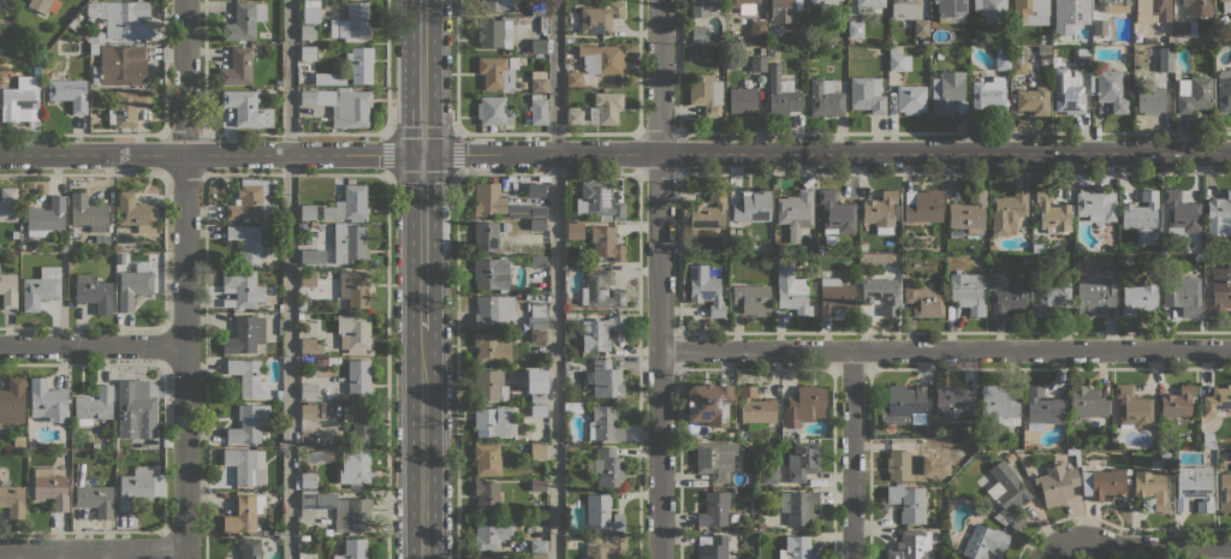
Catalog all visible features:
building: (822, 2)
building: (869, 2)
building: (310, 4)
building: (43, 5)
building: (494, 5)
building: (743, 5)
building: (700, 6)
building: (1066, 6)
building: (1226, 6)
building: (537, 7)
building: (1102, 7)
building: (1196, 7)
building: (903, 8)
building: (783, 10)
building: (991, 10)
building: (950, 11)
building: (1029, 11)
building: (1152, 11)
building: (310, 14)
building: (599, 17)
building: (120, 18)
building: (244, 20)
building: (351, 22)
building: (1083, 26)
building: (1099, 26)
building: (757, 28)
building: (920, 28)
building: (1184, 28)
building: (856, 30)
building: (307, 31)
building: (489, 32)
building: (977, 32)
building: (697, 34)
building: (93, 36)
building: (801, 41)
building: (537, 46)
building: (93, 48)
building: (891, 49)
building: (307, 53)
building: (1001, 58)
building: (602, 59)
building: (1018, 59)
building: (1165, 59)
building: (512, 61)
building: (757, 63)
building: (898, 63)
building: (120, 65)
building: (361, 65)
building: (1084, 65)
building: (36, 66)
road: (386, 66)
road: (456, 66)
building: (237, 67)
building: (495, 72)
road: (422, 76)
building: (328, 78)
building: (573, 78)
building: (537, 81)
building: (522, 84)
building: (1108, 87)
building: (1066, 90)
building: (1224, 90)
building: (947, 91)
building: (69, 93)
building: (704, 93)
building: (781, 93)
building: (986, 93)
building: (866, 94)
building: (1193, 94)
building: (825, 97)
building: (910, 99)
building: (20, 100)
building: (742, 100)
building: (1033, 100)
building: (1149, 100)
building: (341, 105)
building: (126, 107)
building: (246, 108)
building: (537, 108)
building: (597, 109)
building: (493, 111)
building: (321, 112)
building: (310, 123)
road: (614, 151)
traffic signals: (423, 153)
road: (388, 172)
building: (1230, 189)
building: (535, 190)
building: (487, 198)
building: (252, 200)
building: (597, 201)
building: (8, 204)
building: (347, 204)
building: (1096, 204)
building: (751, 206)
building: (922, 206)
building: (795, 209)
building: (879, 209)
building: (537, 210)
building: (1007, 210)
building: (307, 212)
building: (707, 212)
building: (968, 212)
building: (1140, 212)
building: (1181, 212)
building: (88, 213)
building: (135, 213)
building: (835, 213)
building: (1052, 213)
building: (1219, 215)
building: (46, 216)
building: (536, 224)
building: (505, 226)
building: (575, 230)
building: (72, 231)
building: (486, 234)
building: (528, 238)
road: (422, 240)
building: (246, 242)
building: (606, 243)
building: (349, 244)
building: (1036, 246)
building: (1199, 249)
building: (311, 256)
building: (1197, 256)
building: (1039, 258)
building: (1023, 260)
building: (537, 261)
building: (490, 273)
building: (307, 276)
road: (184, 279)
road: (289, 279)
road: (555, 279)
road: (658, 279)
building: (999, 279)
building: (133, 285)
building: (243, 286)
building: (41, 287)
building: (8, 290)
building: (600, 290)
building: (704, 290)
building: (355, 291)
building: (791, 291)
building: (1220, 291)
building: (967, 292)
building: (94, 293)
building: (881, 293)
building: (1182, 293)
building: (834, 296)
building: (1095, 296)
building: (1051, 297)
building: (751, 298)
building: (1009, 298)
building: (1137, 298)
building: (923, 299)
building: (494, 310)
building: (302, 315)
building: (536, 315)
building: (279, 326)
building: (353, 332)
building: (599, 332)
building: (245, 334)
building: (537, 335)
road: (91, 344)
building: (311, 345)
building: (490, 347)
road: (944, 350)
building: (320, 362)
road: (387, 365)
road: (456, 365)
building: (540, 370)
building: (246, 376)
building: (358, 376)
building: (605, 379)
building: (489, 386)
building: (537, 388)
building: (308, 389)
building: (48, 400)
building: (1217, 400)
building: (12, 402)
building: (1087, 402)
building: (1177, 402)
building: (708, 403)
building: (953, 403)
building: (904, 404)
building: (998, 404)
building: (94, 405)
building: (803, 405)
building: (572, 406)
building: (755, 406)
building: (1041, 408)
building: (1132, 408)
building: (135, 409)
building: (539, 410)
building: (308, 411)
building: (358, 421)
building: (494, 421)
building: (249, 423)
building: (605, 423)
building: (927, 430)
building: (792, 433)
building: (968, 439)
building: (1207, 439)
building: (19, 440)
road: (422, 444)
building: (537, 451)
road: (852, 454)
building: (1165, 454)
building: (1009, 456)
building: (487, 458)
building: (715, 458)
building: (802, 460)
building: (900, 460)
building: (244, 465)
building: (355, 465)
building: (608, 466)
building: (768, 474)
building: (308, 480)
building: (1054, 481)
building: (1102, 482)
building: (537, 484)
building: (137, 486)
building: (1194, 487)
building: (50, 488)
building: (1150, 490)
building: (1225, 492)
building: (1007, 494)
building: (487, 496)
building: (95, 499)
building: (12, 500)
building: (908, 501)
building: (797, 505)
building: (714, 509)
building: (341, 510)
building: (244, 512)
building: (601, 512)
building: (761, 527)
building: (492, 531)
building: (753, 536)
building: (983, 541)
building: (911, 545)
road: (1138, 545)
building: (537, 546)
building: (712, 546)
building: (249, 547)
building: (603, 547)
building: (796, 548)
road: (93, 549)
building: (352, 549)
building: (487, 557)
building: (537, 557)
road: (1048, 557)

